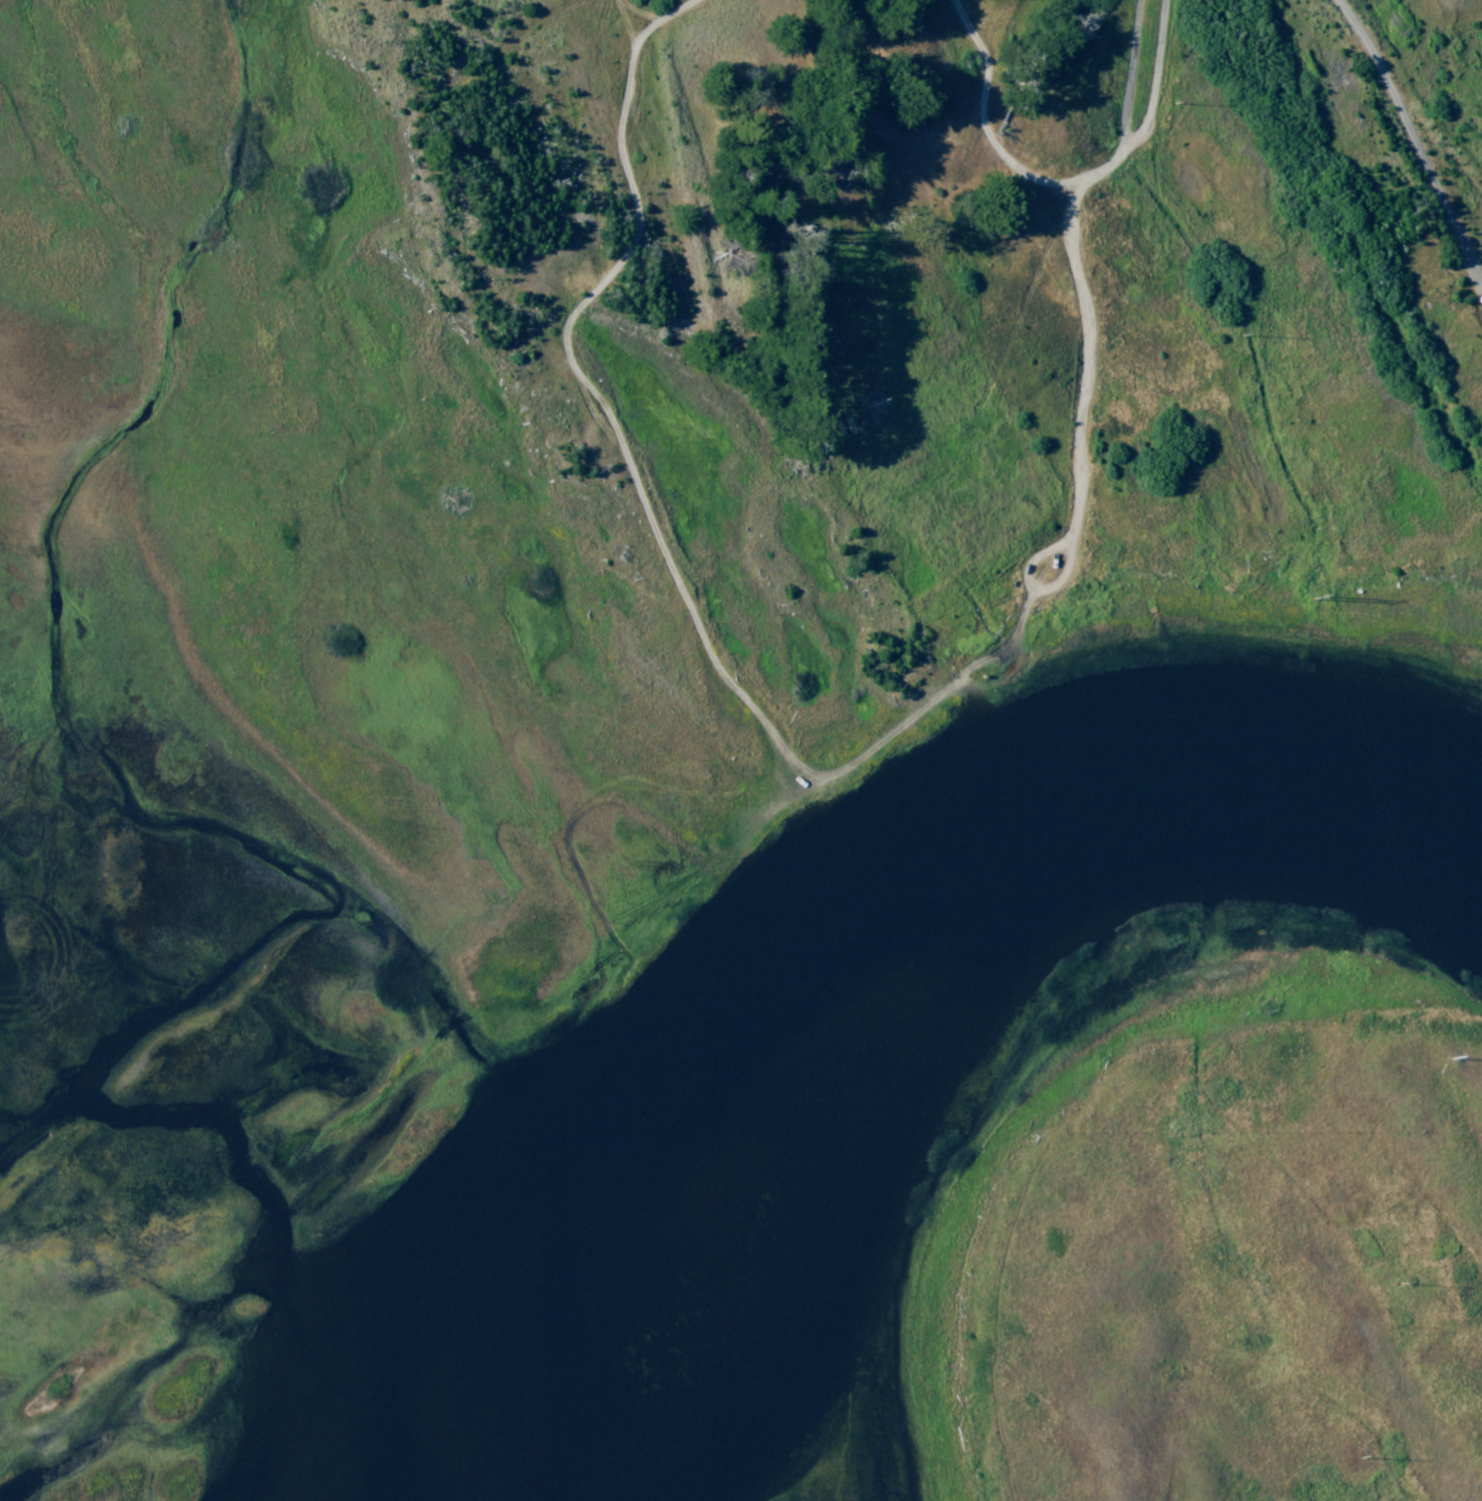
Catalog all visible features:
road: (986, 121)
road: (1133, 138)
road: (1413, 141)
road: (594, 391)
road: (1082, 404)
road: (685, 881)

